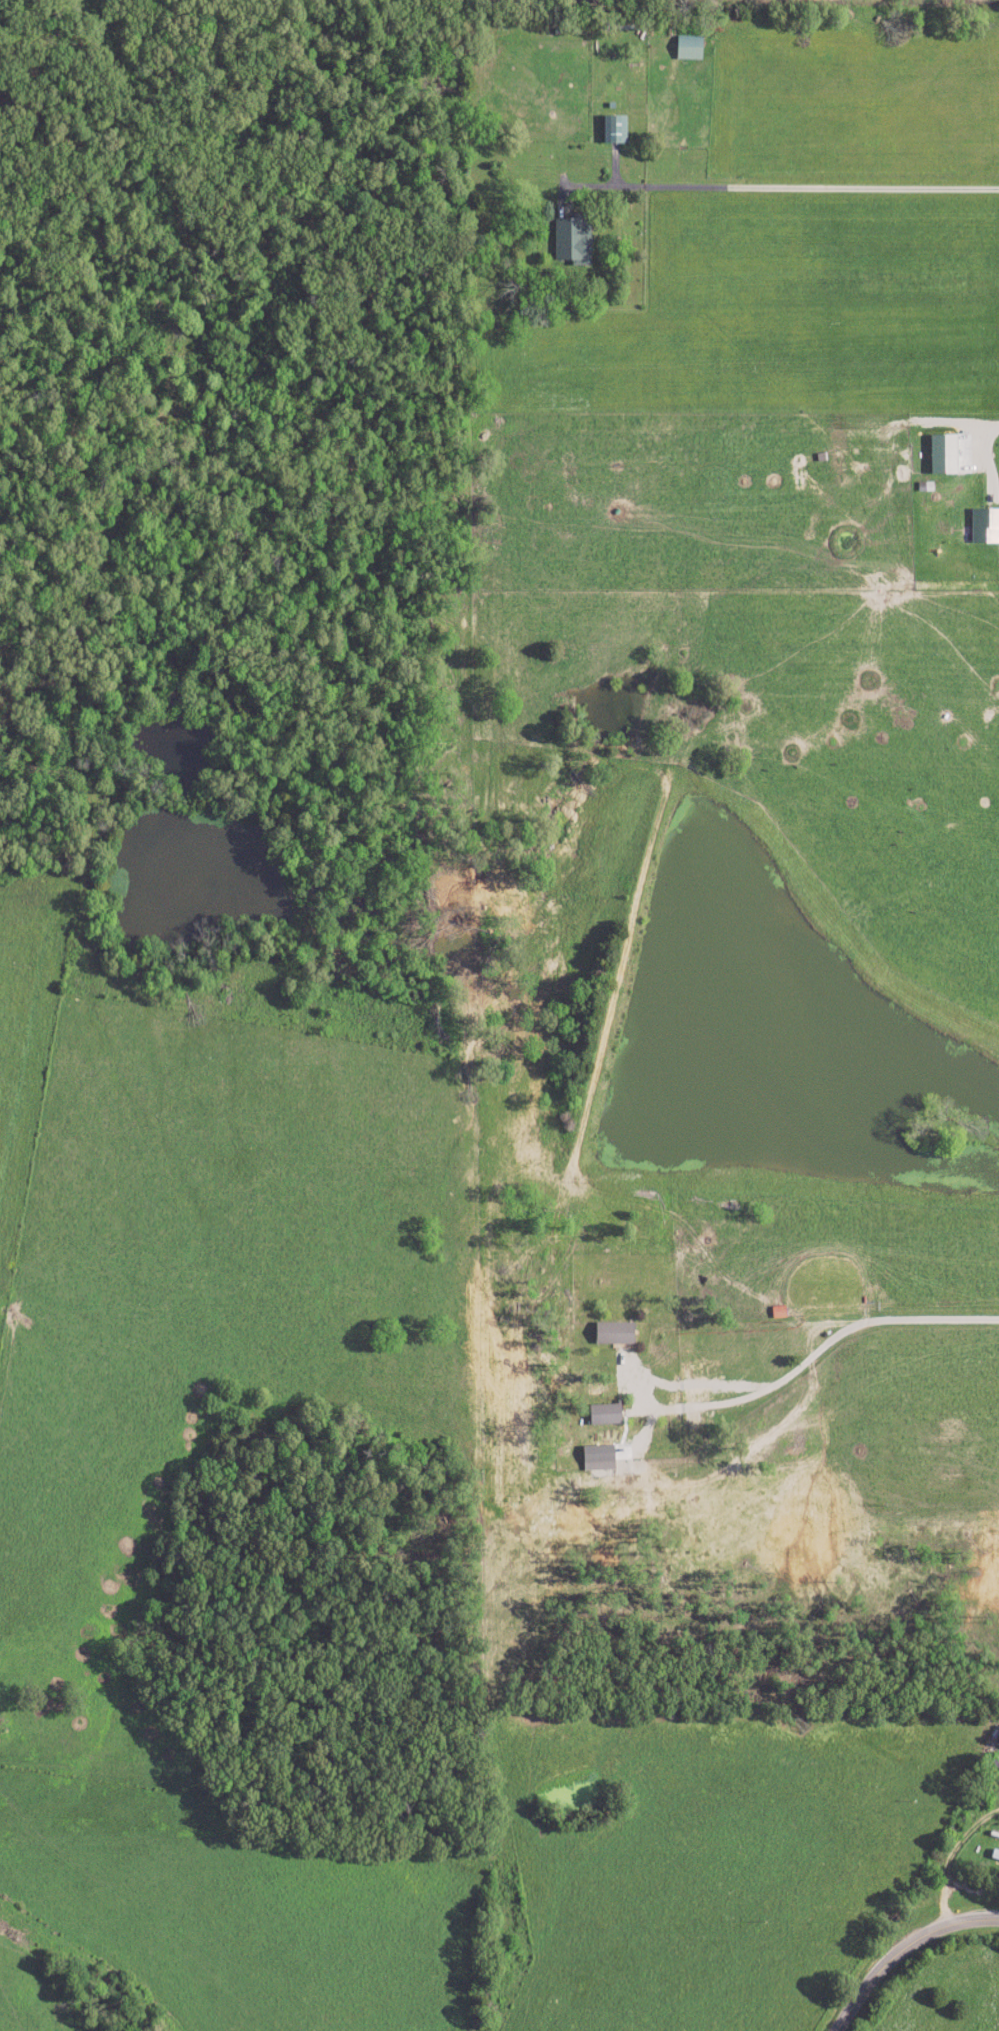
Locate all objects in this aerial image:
building: (688, 48)
building: (613, 130)
road: (809, 183)
building: (571, 241)
road: (982, 425)
building: (943, 455)
building: (984, 527)
building: (613, 1333)
building: (604, 1414)
building: (598, 1458)
building: (995, 1855)
road: (947, 1856)
road: (904, 1949)

